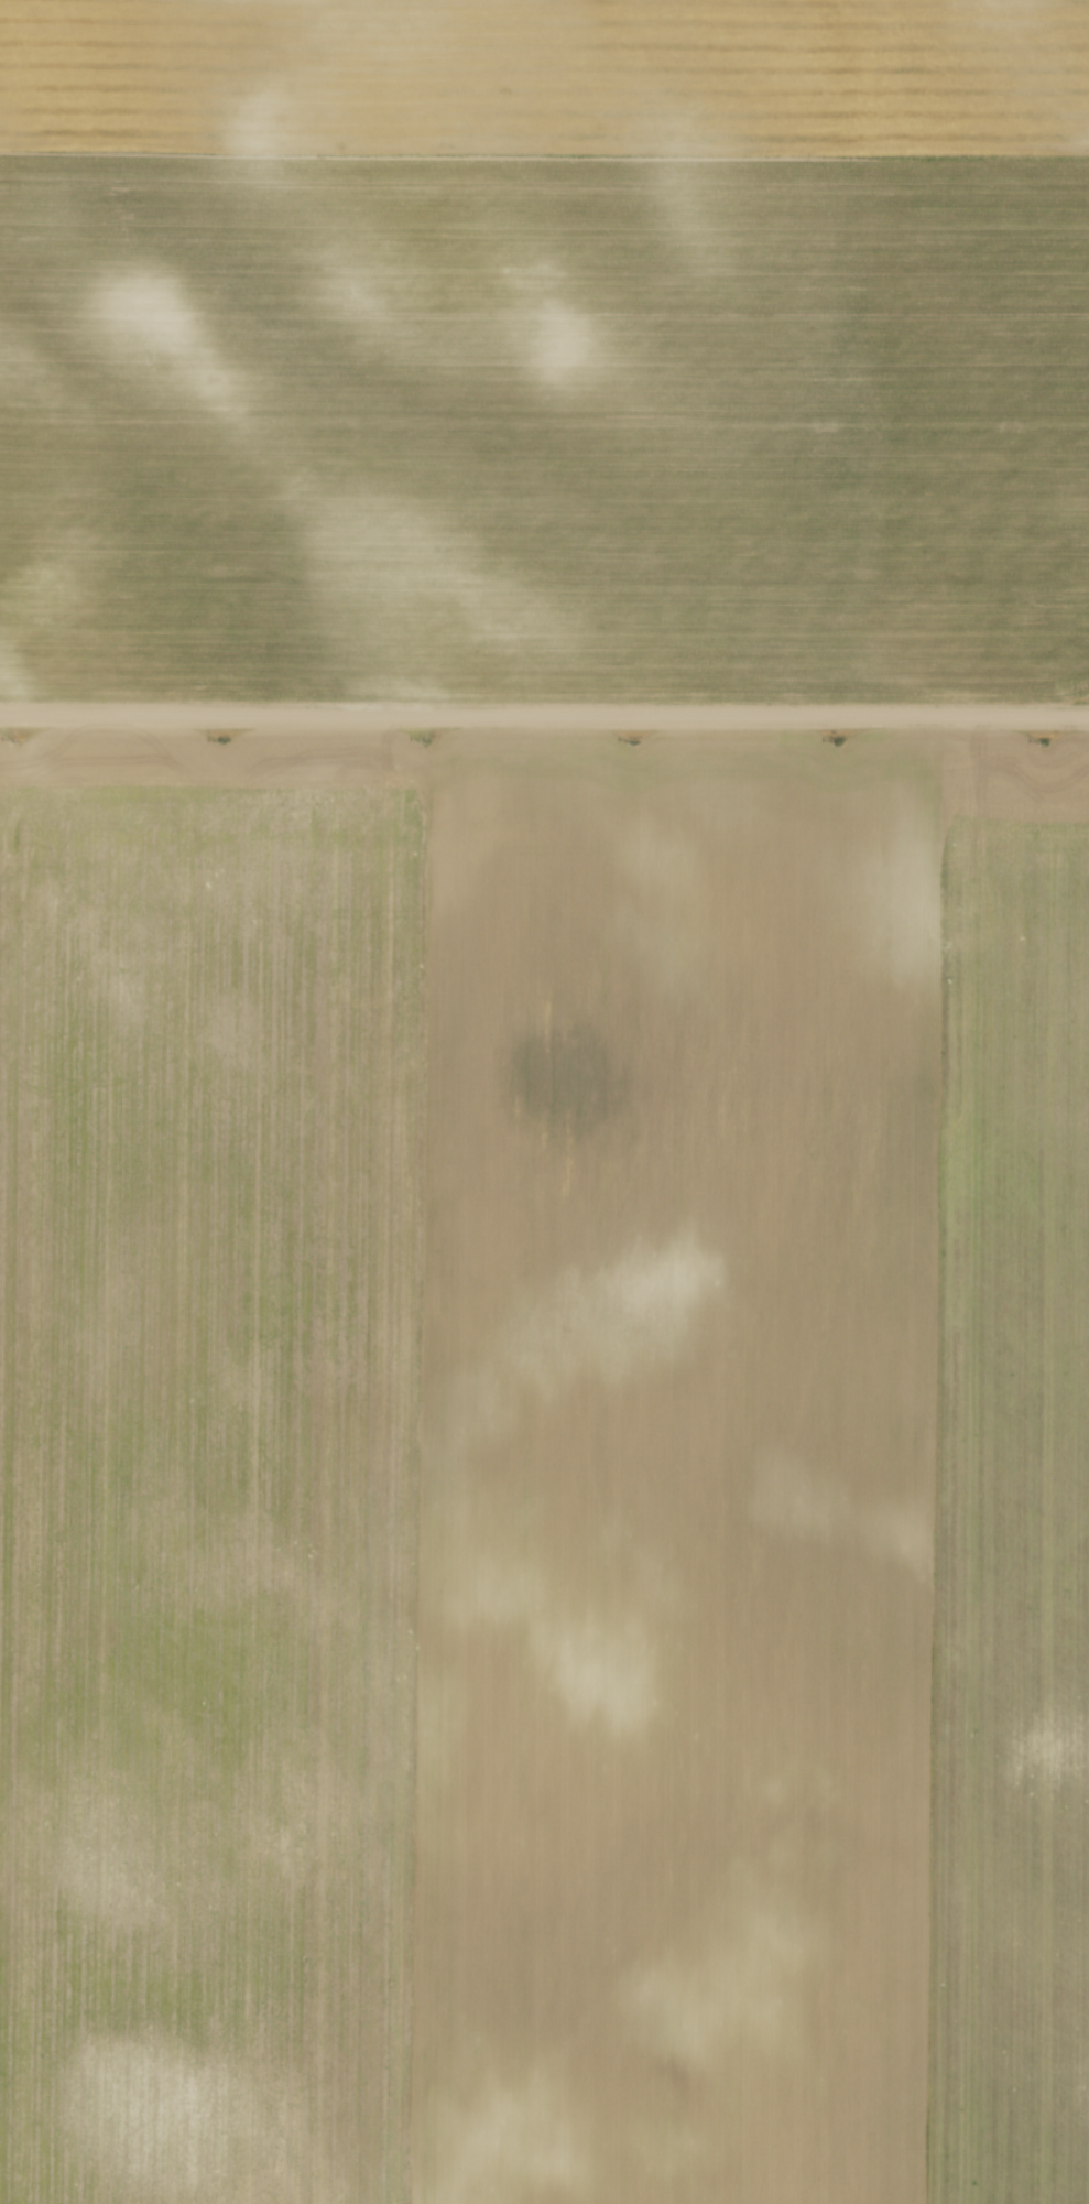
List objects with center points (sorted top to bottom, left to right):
crop: (544, 347)
road: (544, 721)
crop: (544, 1472)

